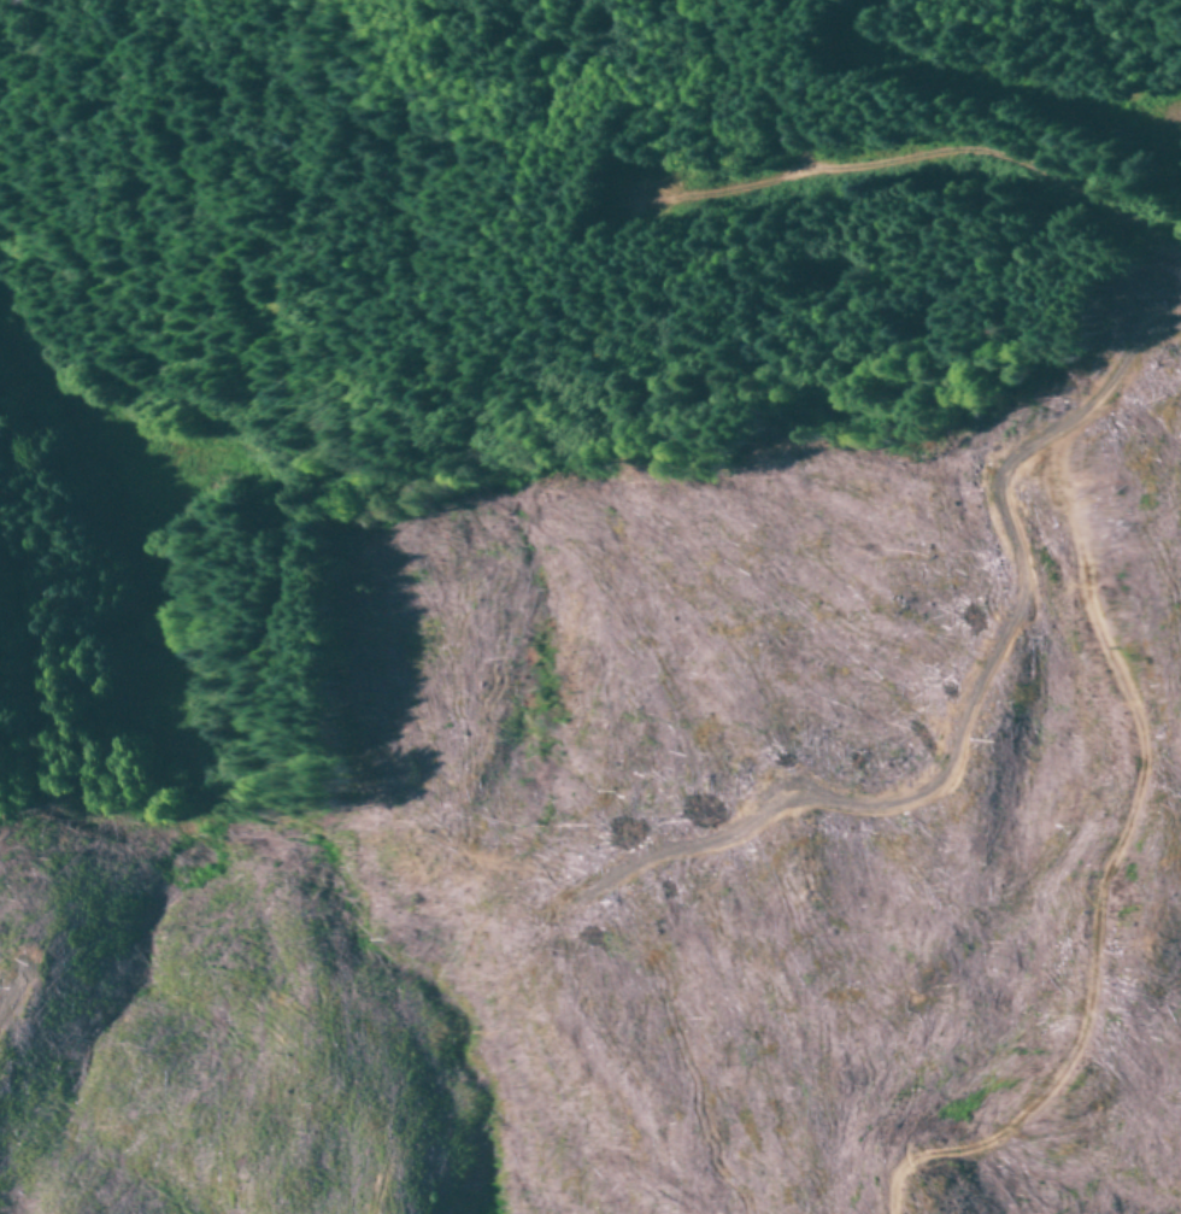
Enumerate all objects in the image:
road: (951, 166)
road: (1153, 938)

